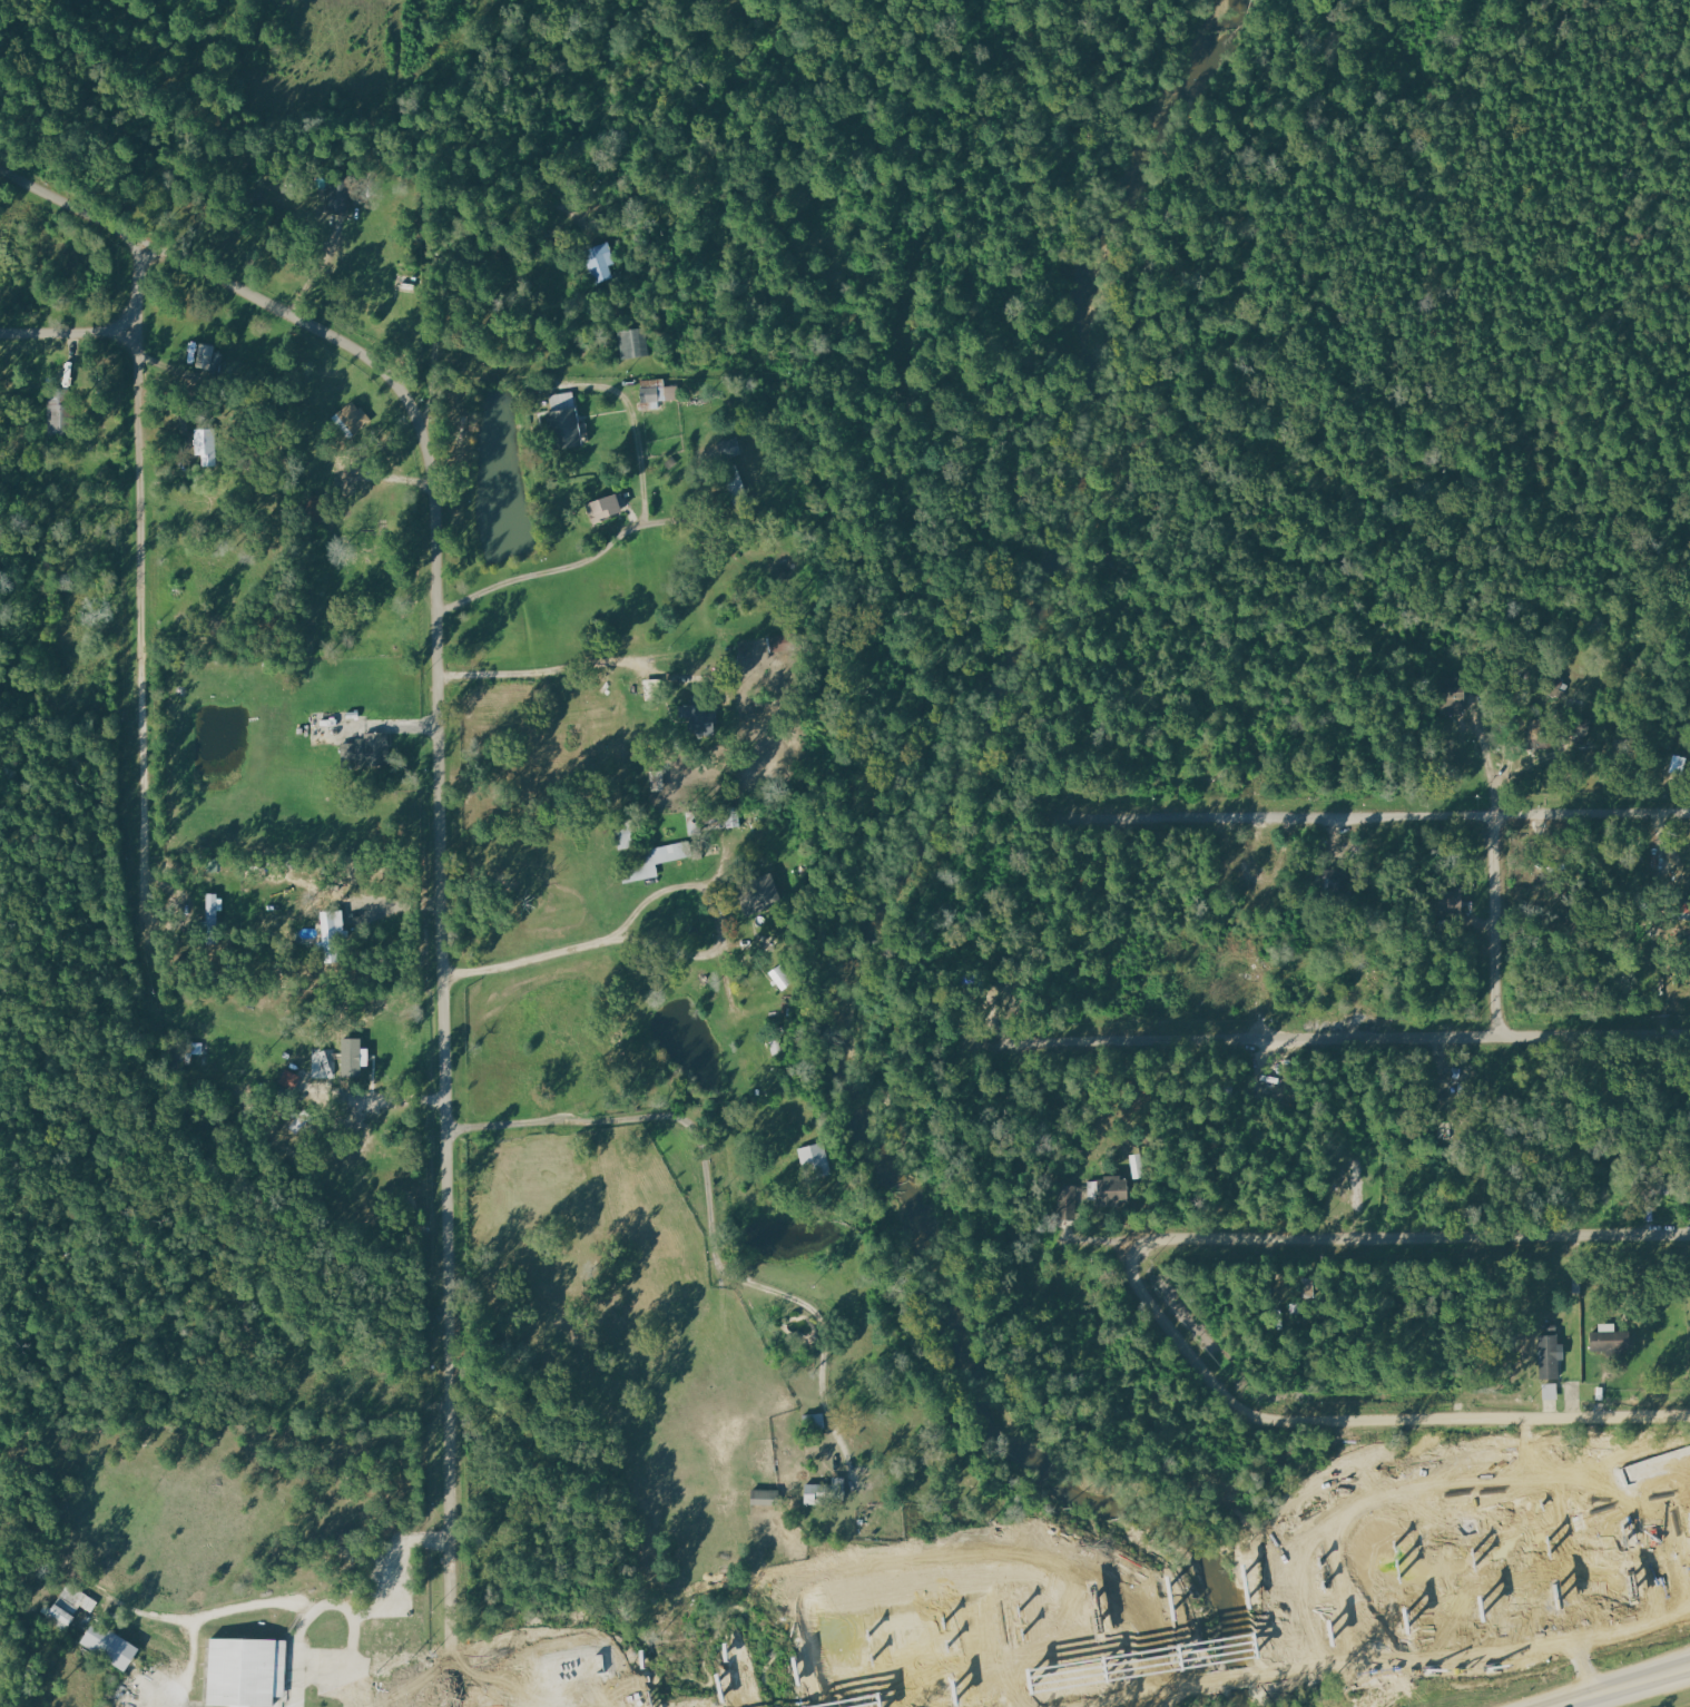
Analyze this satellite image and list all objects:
building: (601, 263)
road: (68, 333)
building: (635, 343)
building: (202, 354)
building: (656, 391)
building: (558, 401)
building: (52, 415)
building: (562, 429)
building: (203, 445)
building: (729, 449)
building: (606, 508)
road: (621, 533)
road: (141, 602)
road: (544, 675)
building: (1453, 700)
building: (697, 720)
building: (1543, 736)
building: (367, 751)
building: (656, 782)
road: (441, 785)
road: (1373, 818)
building: (1334, 885)
river: (880, 894)
building: (756, 895)
building: (1448, 902)
road: (1497, 904)
building: (210, 909)
building: (331, 935)
road: (660, 946)
building: (780, 979)
road: (1334, 1038)
building: (352, 1058)
road: (374, 1097)
building: (815, 1161)
building: (1345, 1181)
building: (1113, 1190)
road: (711, 1203)
building: (1070, 1203)
road: (1419, 1239)
road: (1178, 1330)
building: (1610, 1338)
building: (1549, 1356)
road: (1467, 1422)
road: (1662, 1466)
building: (762, 1497)
road: (1122, 1593)
road: (1169, 1602)
building: (65, 1606)
road: (1275, 1635)
building: (107, 1645)
building: (245, 1671)
road: (508, 1684)
road: (1630, 1690)
road: (650, 1706)

